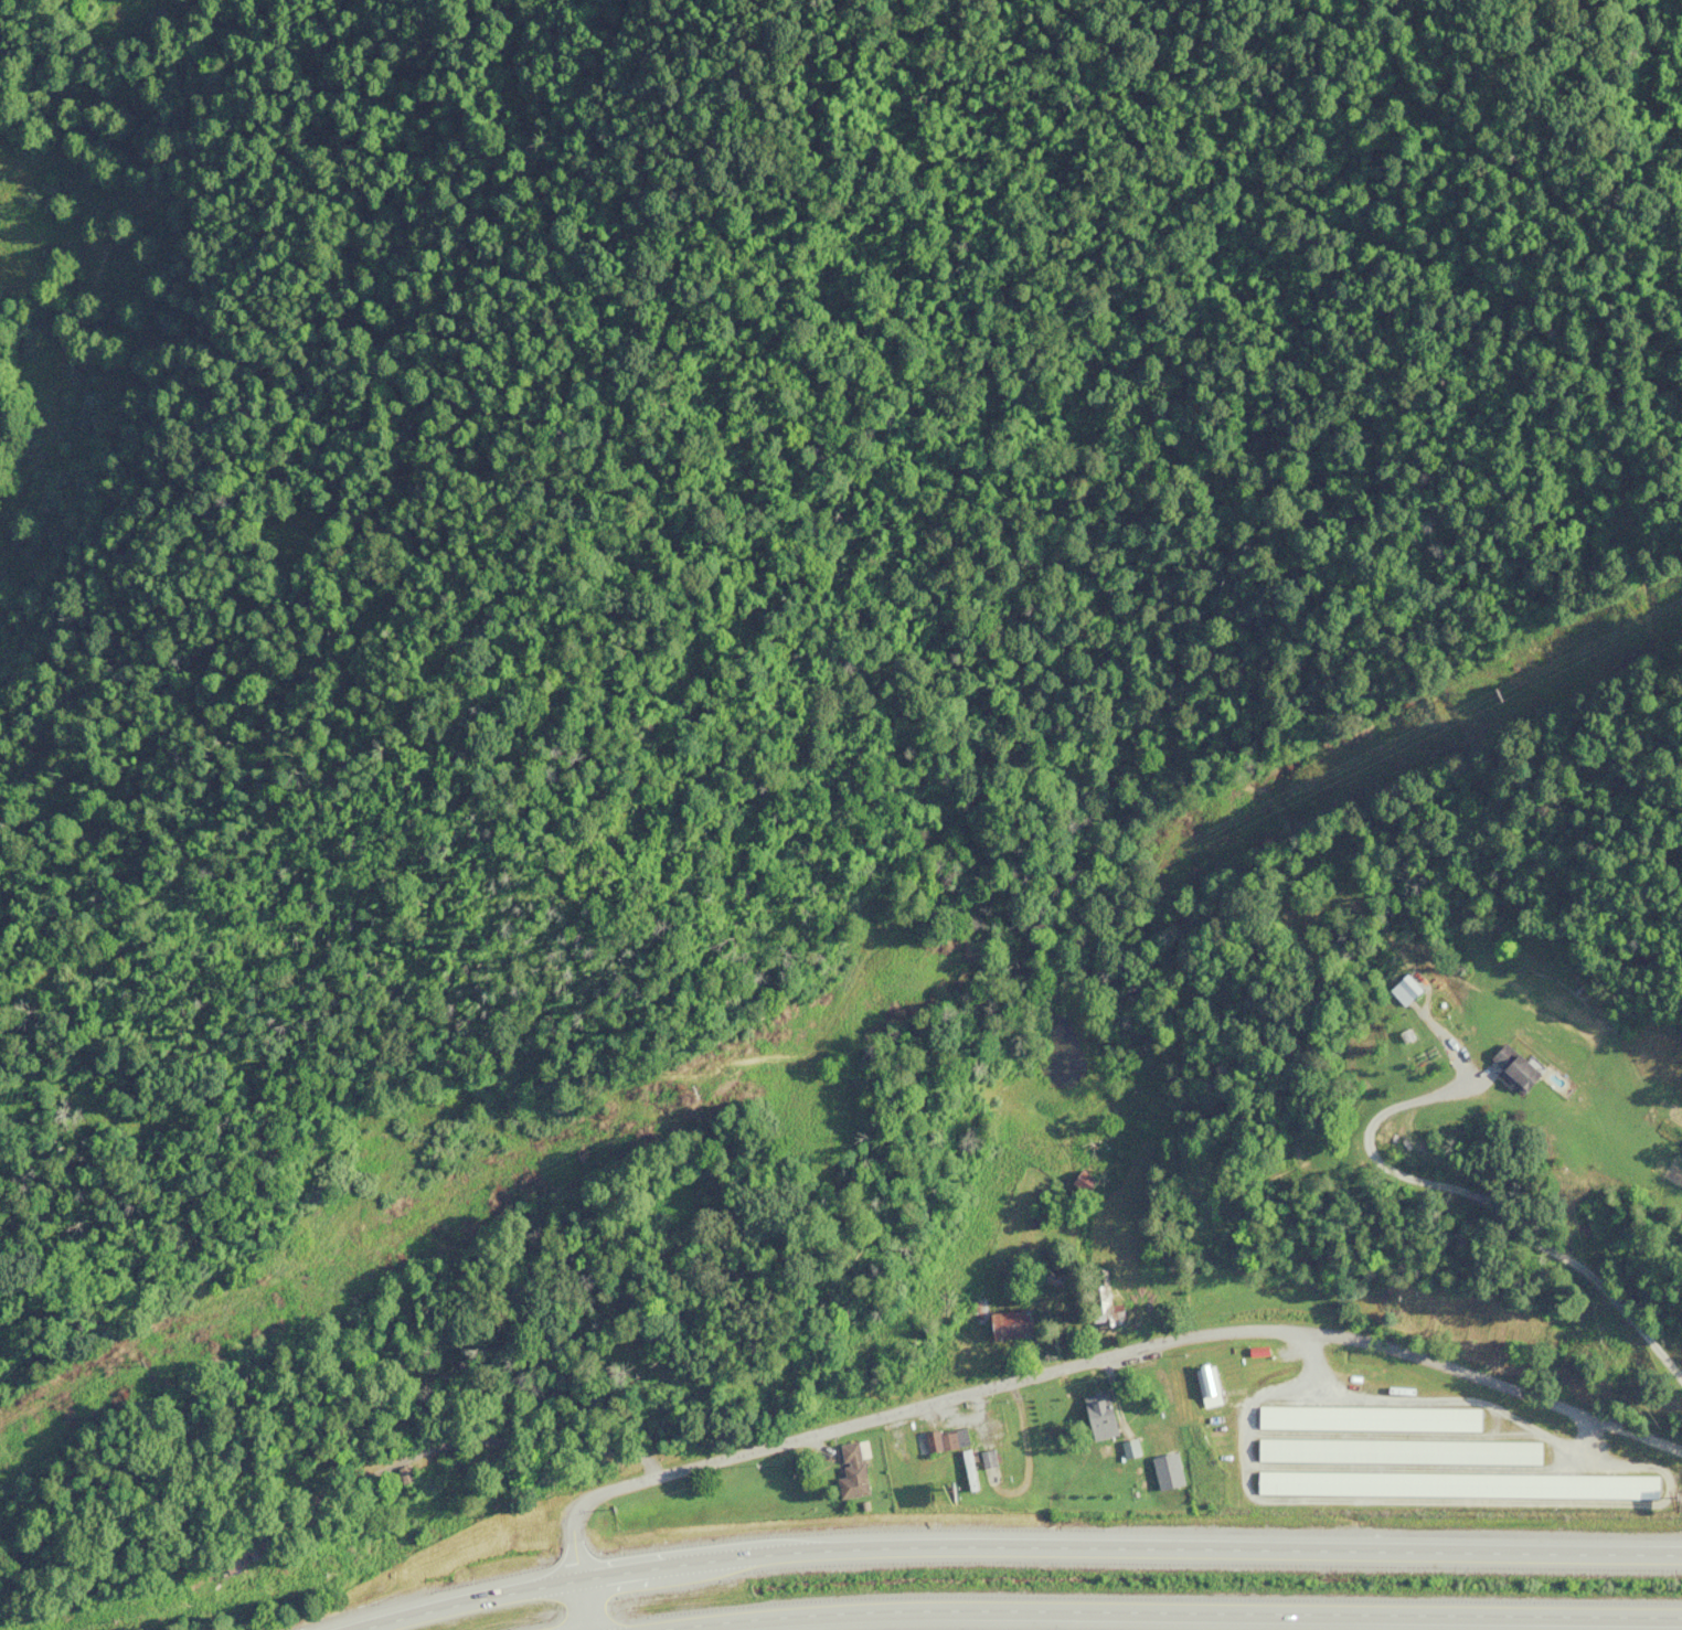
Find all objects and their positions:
power tower: (1494, 692)
building: (1396, 991)
building: (1514, 1067)
power tower: (679, 1091)
road: (1490, 1201)
building: (1094, 1300)
building: (999, 1325)
road: (1065, 1365)
building: (1201, 1385)
building: (1362, 1418)
building: (948, 1440)
building: (1352, 1450)
building: (1521, 1452)
building: (981, 1459)
building: (847, 1469)
building: (962, 1470)
building: (1163, 1479)
building: (1321, 1481)
road: (1014, 1545)
road: (1164, 1611)

